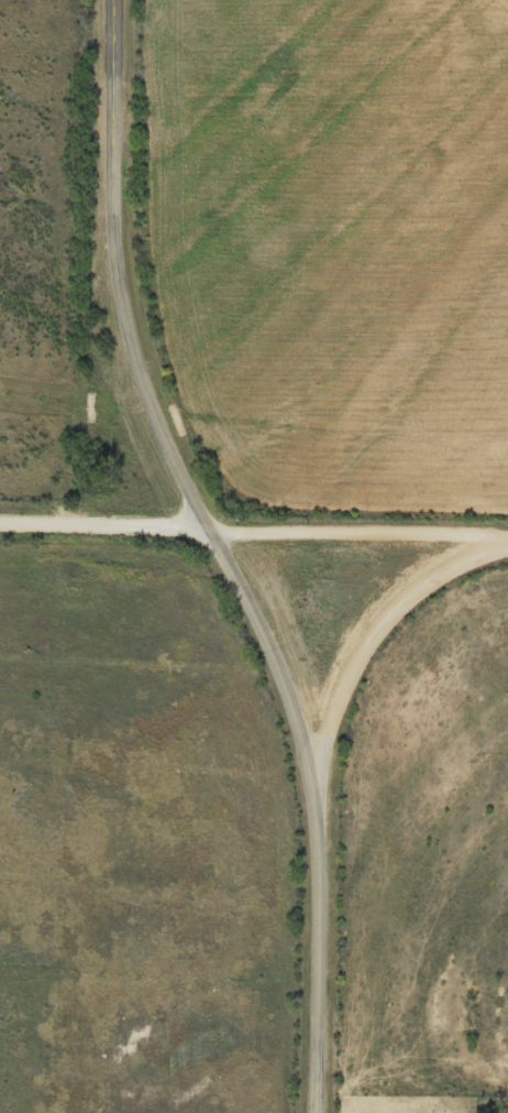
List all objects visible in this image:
road: (253, 530)
road: (222, 555)
road: (363, 642)
building: (430, 1105)

